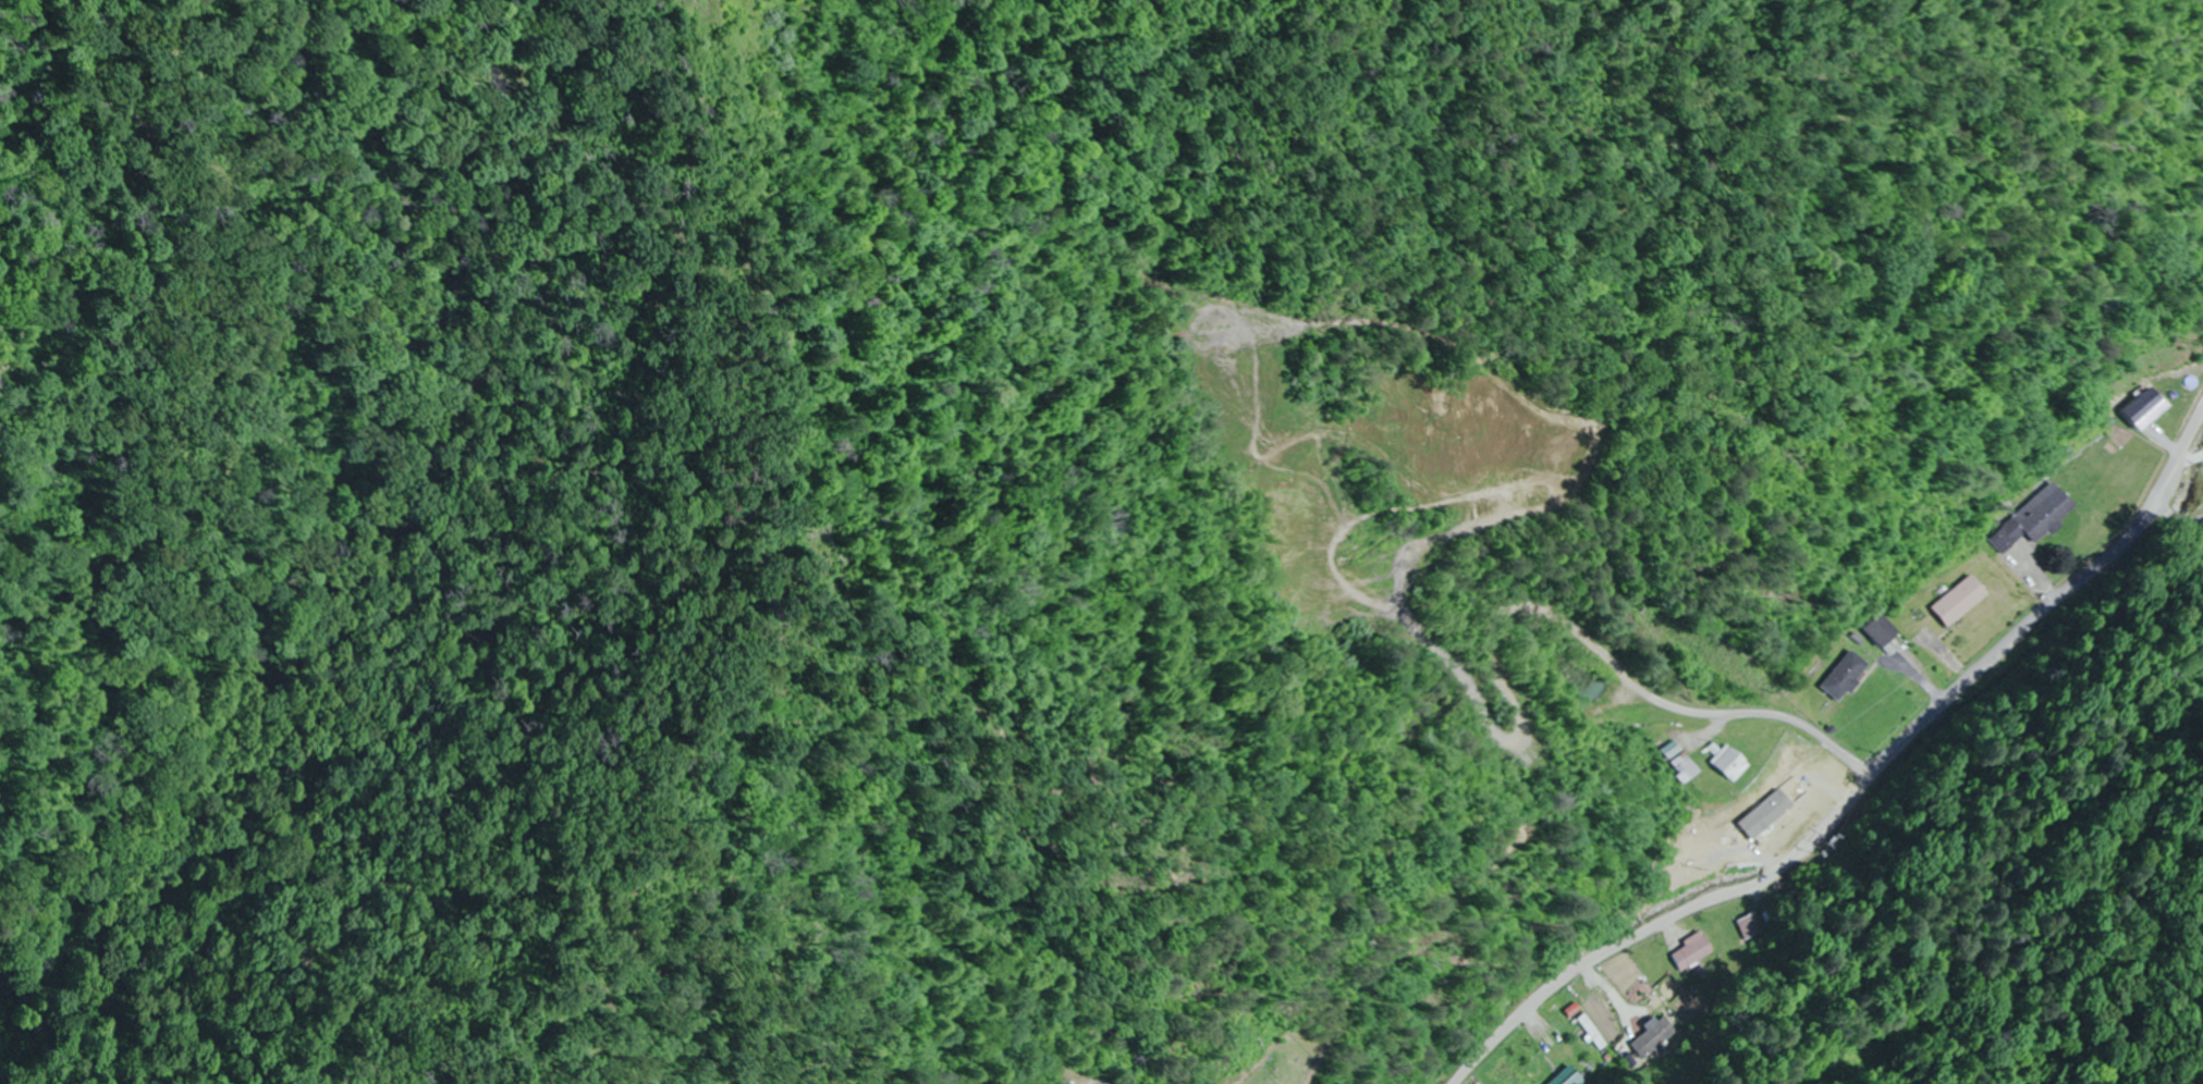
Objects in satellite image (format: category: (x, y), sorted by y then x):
building: (2171, 405)
building: (2042, 518)
building: (1967, 601)
building: (1852, 676)
building: (1733, 763)
building: (1688, 767)
road: (1868, 794)
building: (1754, 925)
building: (1698, 952)
building: (1612, 1018)
building: (1596, 1032)
building: (1659, 1039)
building: (1574, 1076)

